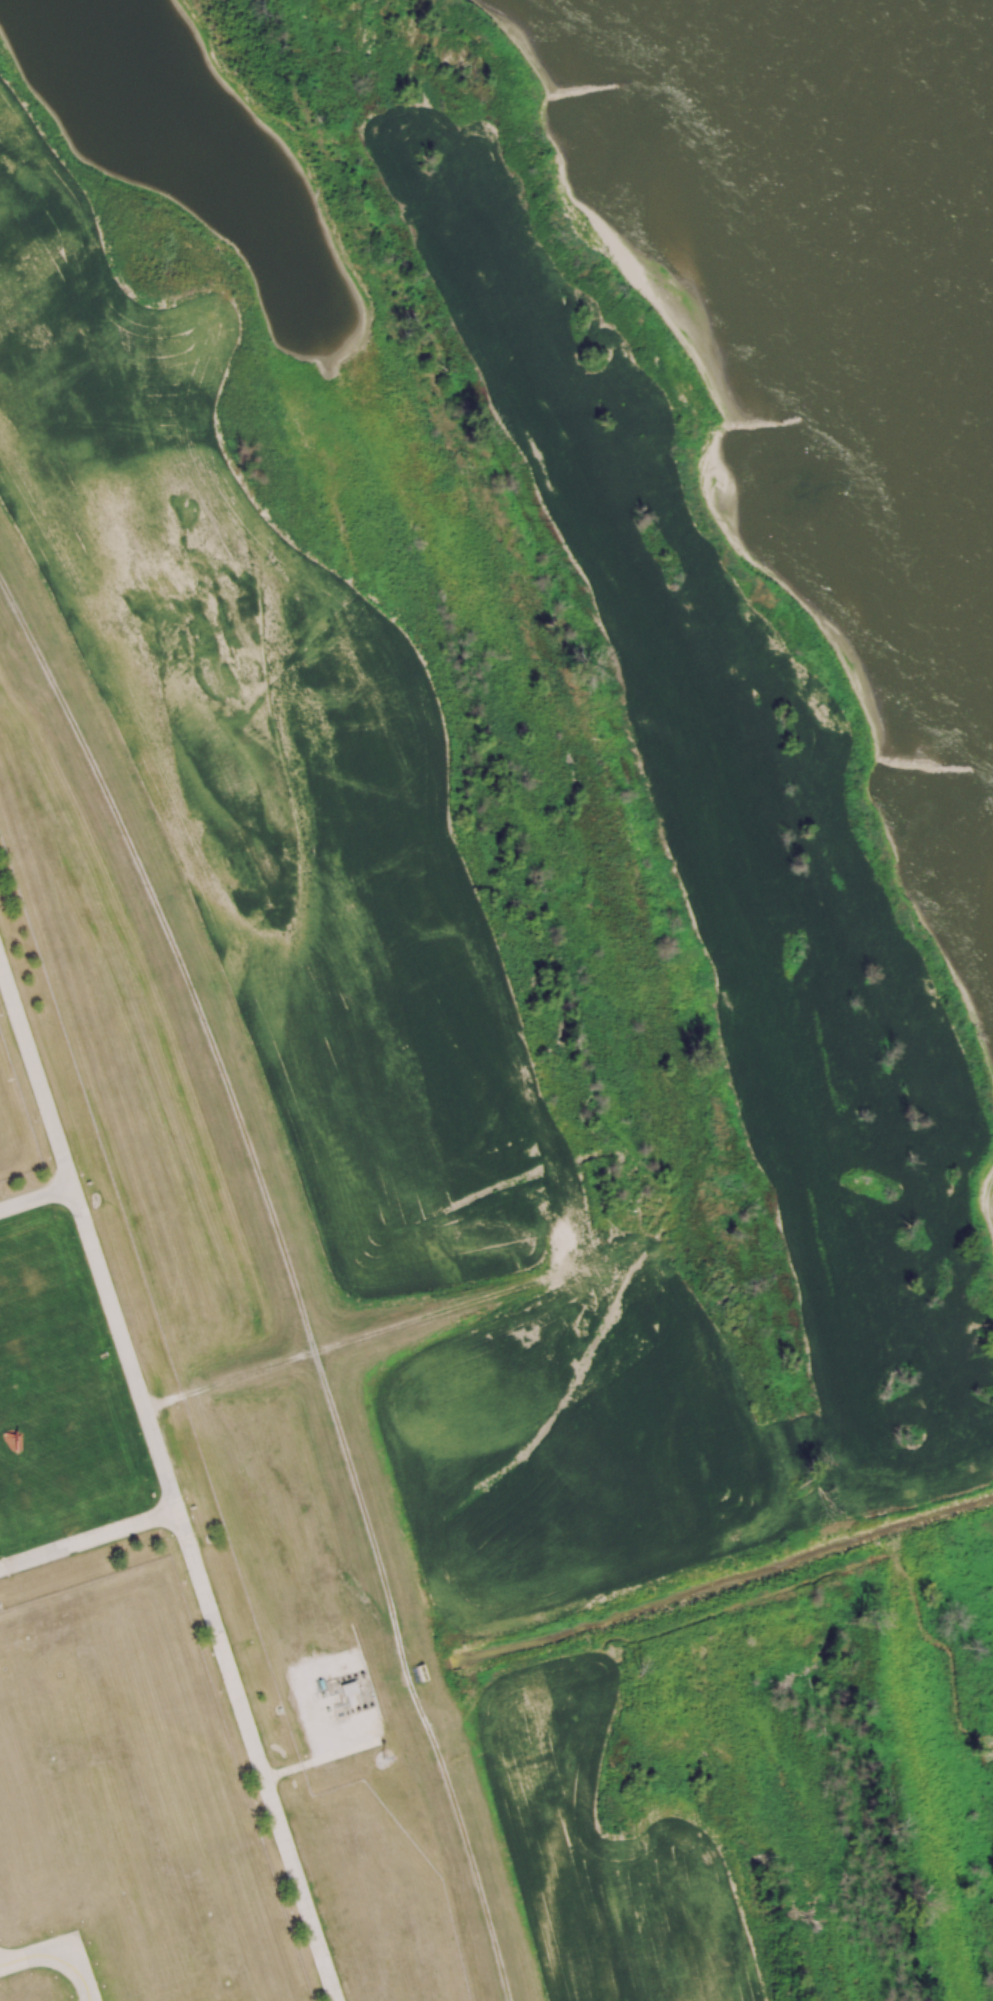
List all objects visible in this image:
river: (866, 240)
road: (36, 1077)
road: (36, 1200)
road: (88, 1540)
road: (203, 1595)
airport: (147, 1635)
road: (321, 1760)
airport taxiway: (55, 1958)

